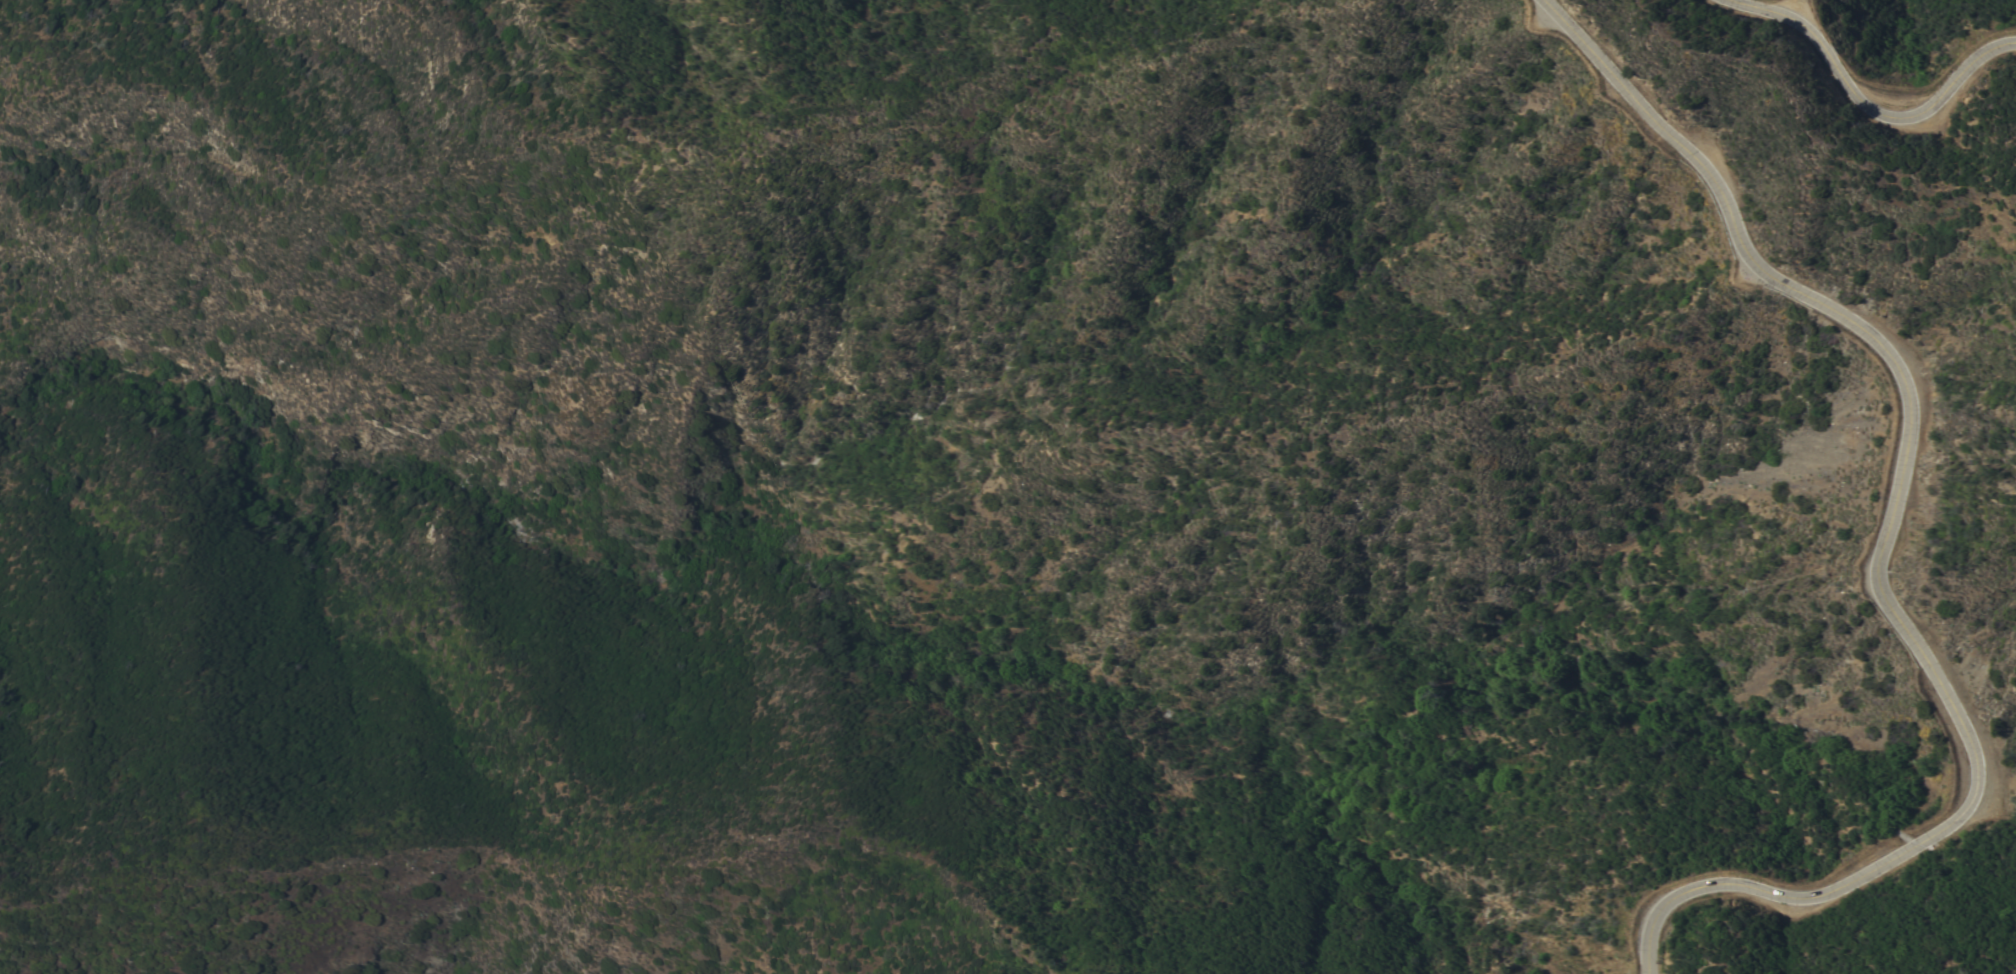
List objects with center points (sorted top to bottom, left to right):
road: (1867, 105)
road: (1884, 542)

